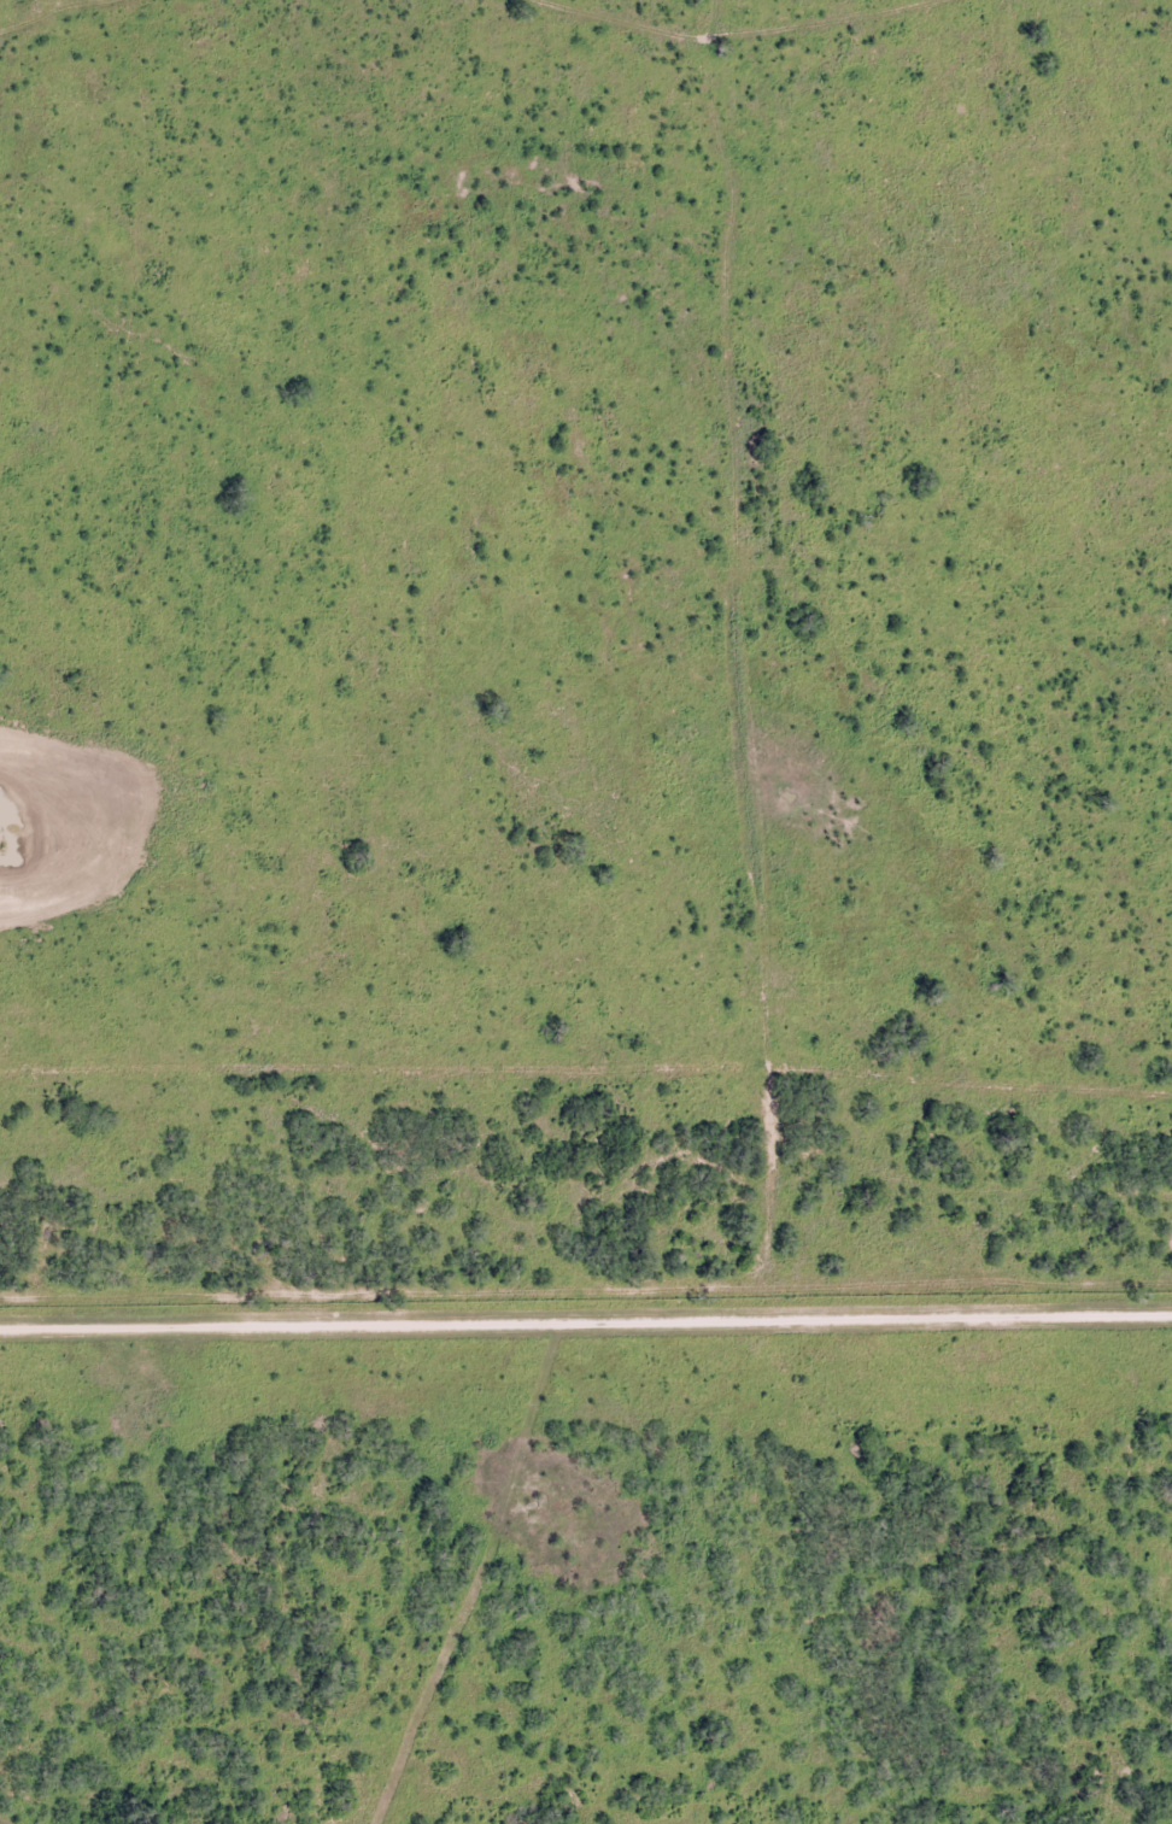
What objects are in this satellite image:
road: (663, 37)
road: (737, 676)
road: (586, 1310)

